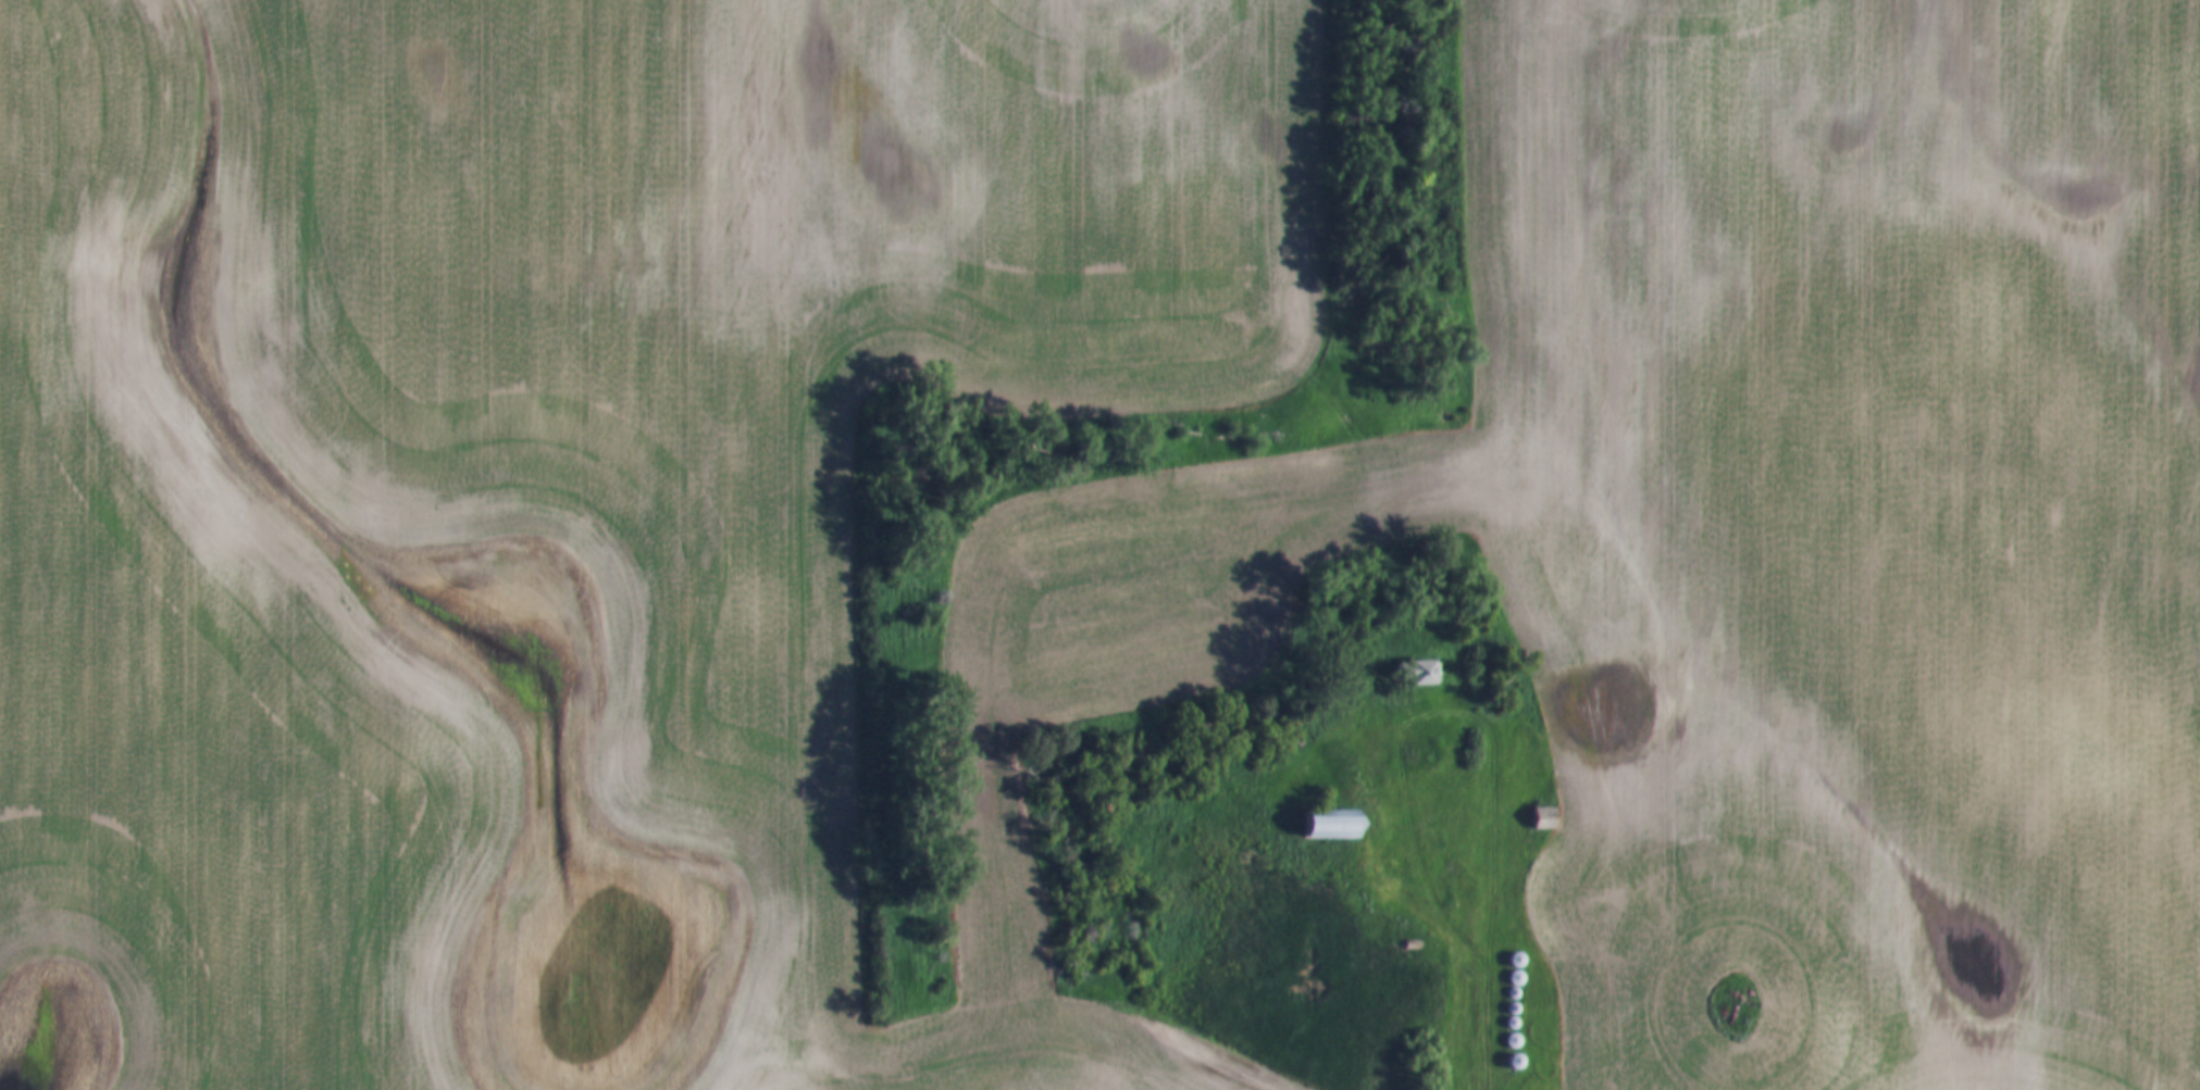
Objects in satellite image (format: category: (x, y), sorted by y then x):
road: (923, 371)
building: (1420, 674)
building: (1541, 819)
building: (1329, 827)

